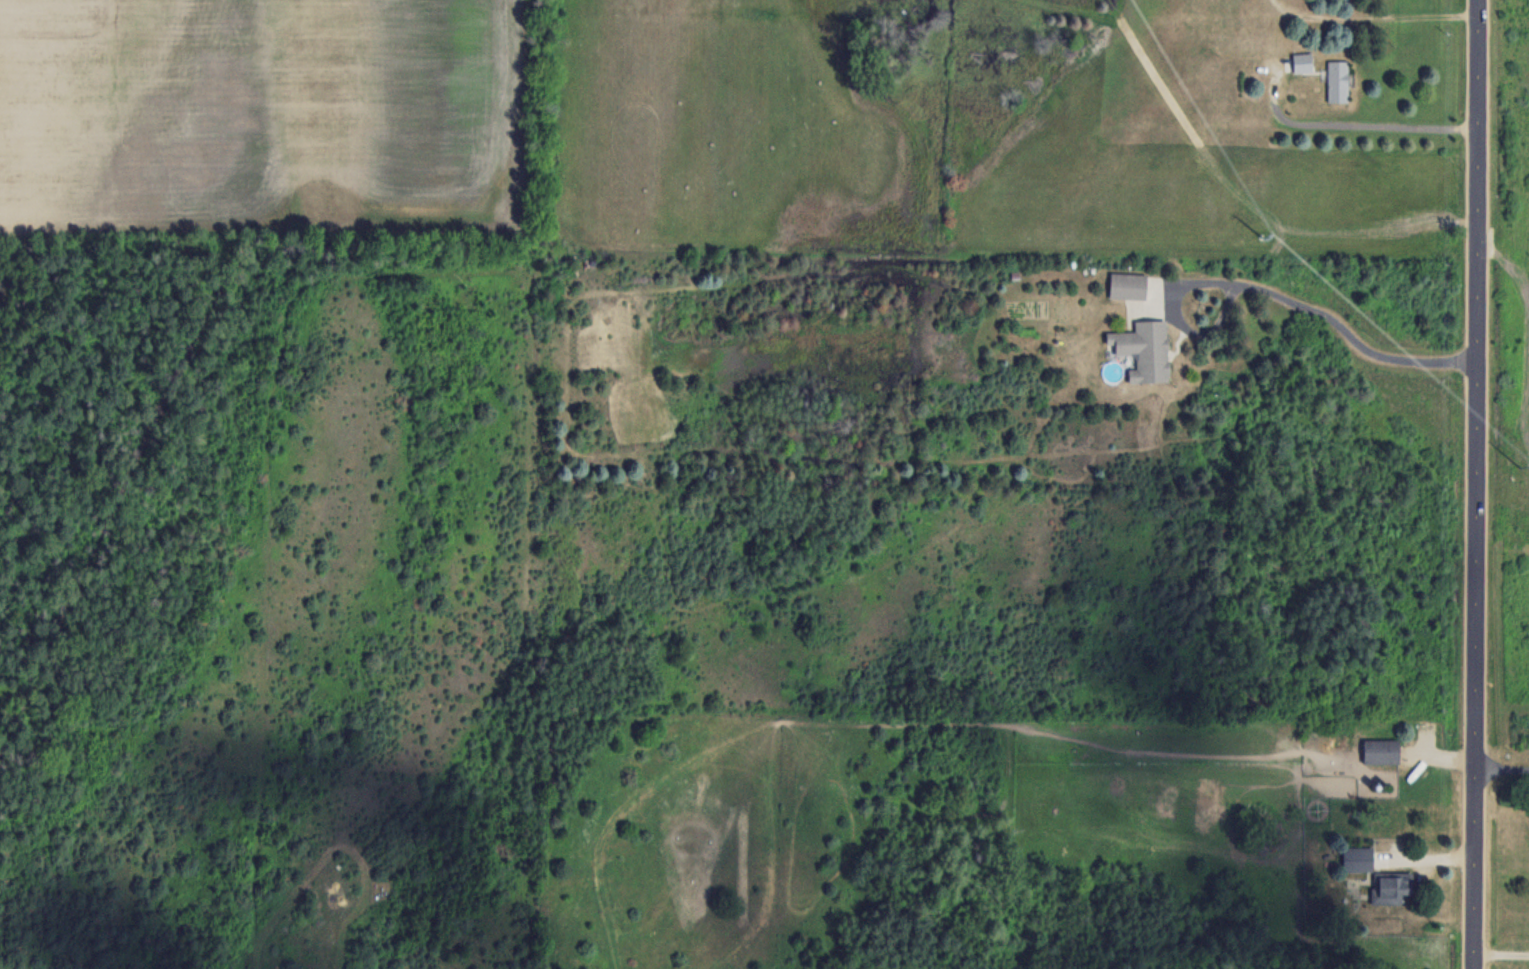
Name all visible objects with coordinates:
building: (1302, 62)
building: (1338, 80)
power tower: (1265, 236)
building: (1128, 284)
road: (1327, 319)
building: (1143, 349)
power tower: (1519, 465)
road: (1475, 484)
building: (1381, 750)
building: (1357, 858)
building: (1391, 887)
road: (1501, 955)

